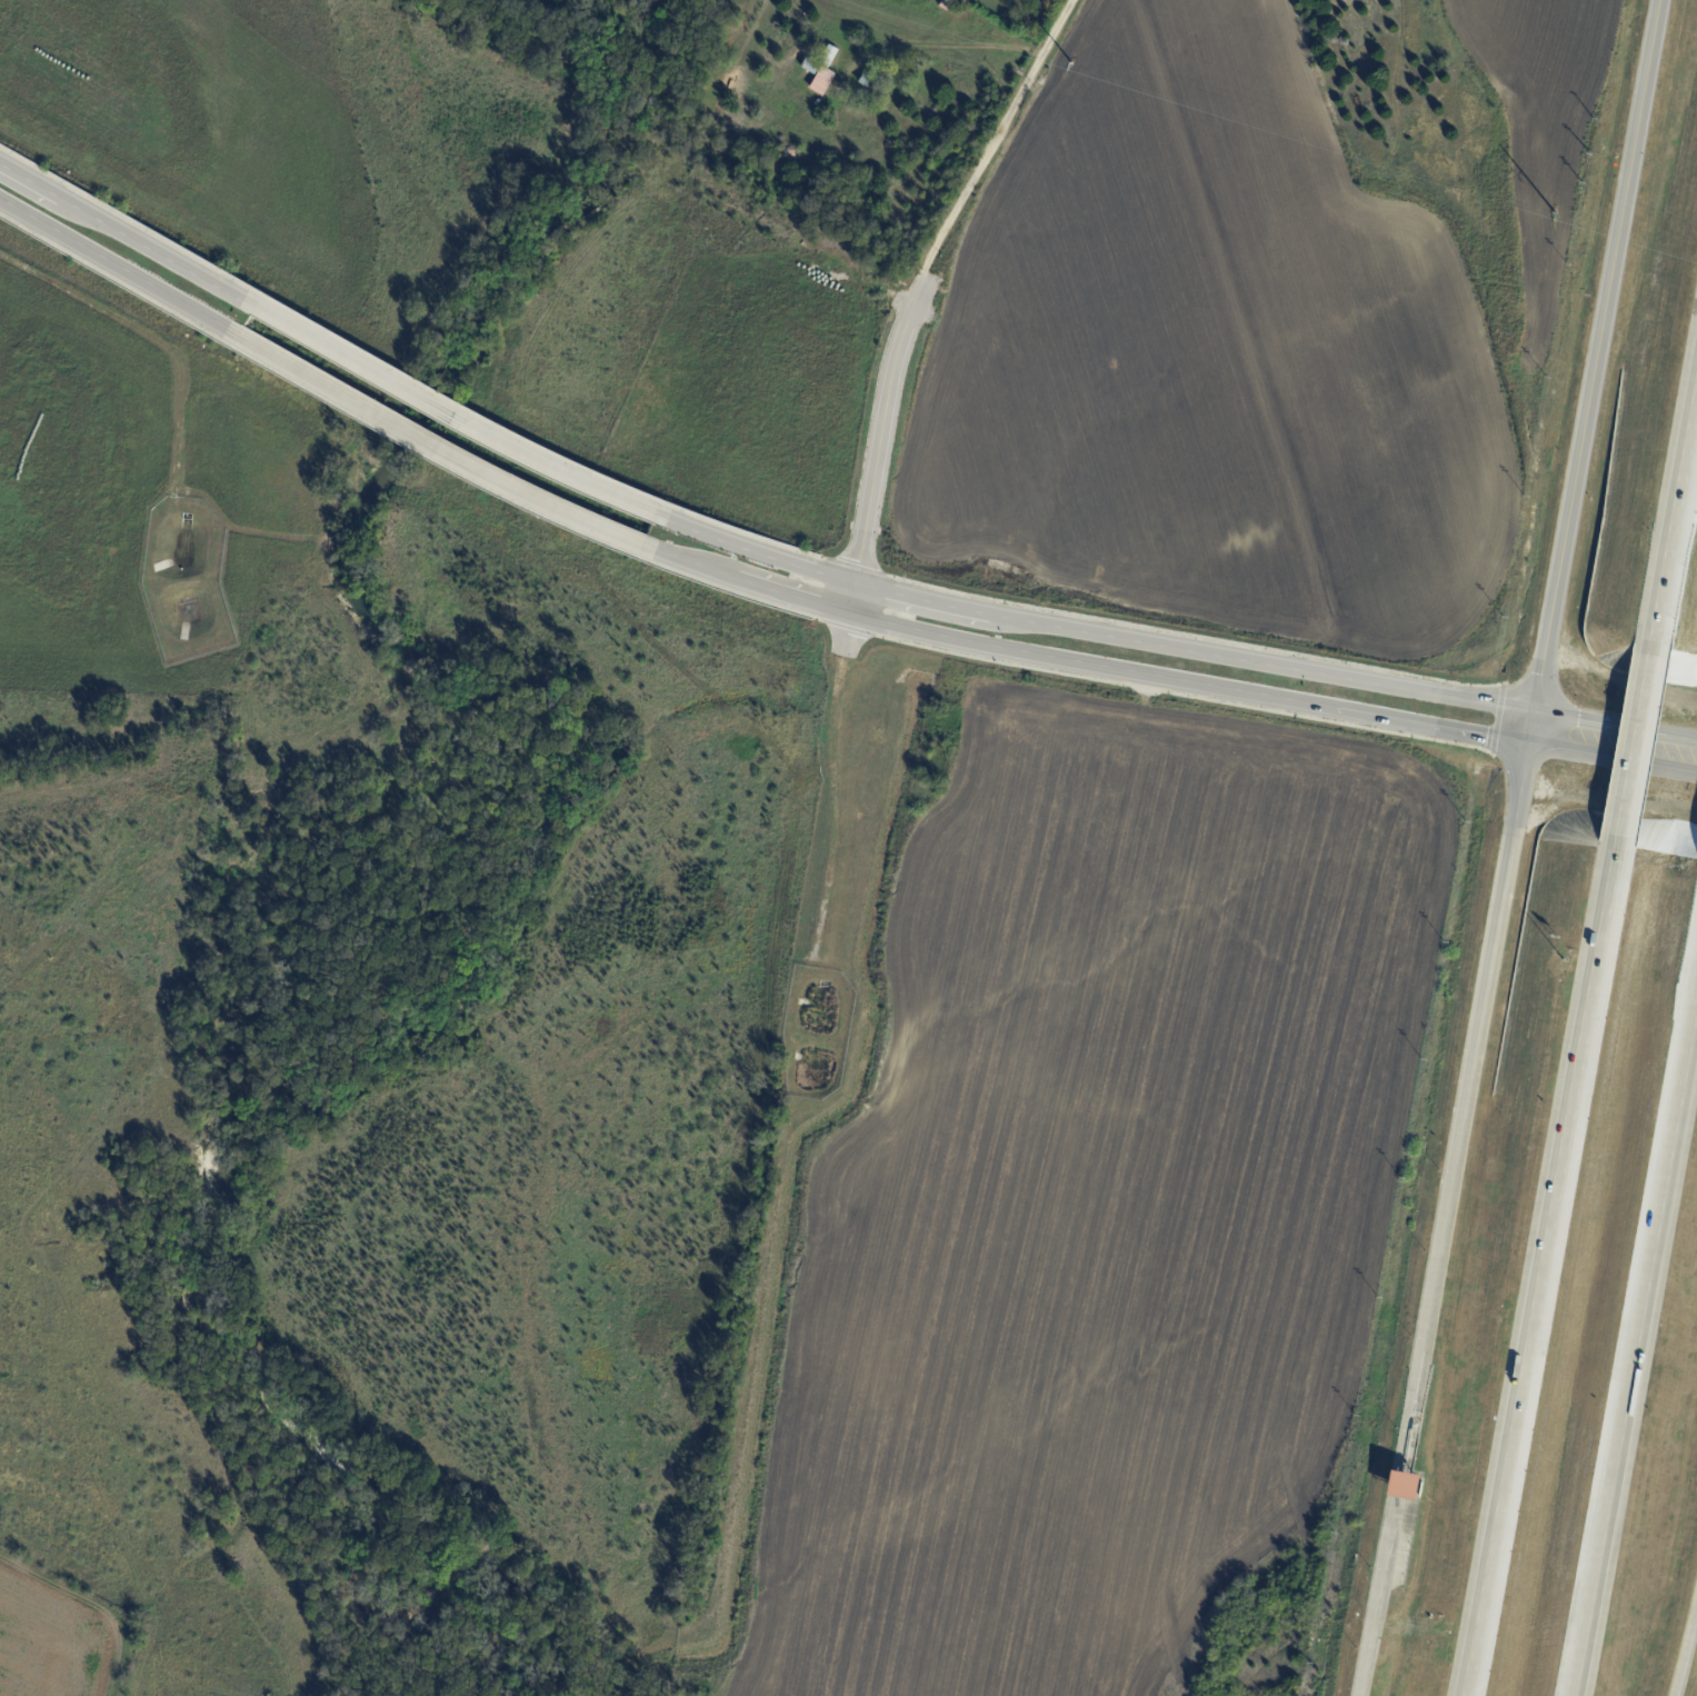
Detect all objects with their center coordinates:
building: (945, 4)
building: (828, 57)
building: (806, 71)
building: (820, 81)
building: (871, 83)
road: (996, 138)
road: (128, 233)
road: (119, 269)
road: (1596, 365)
road: (449, 413)
road: (878, 443)
road: (436, 449)
road: (1675, 508)
road: (1089, 632)
road: (1082, 665)
road: (1585, 738)
road: (1631, 738)
road: (1667, 754)
road: (1476, 1038)
road: (1540, 1273)
road: (1636, 1349)
road: (1407, 1409)
road: (1392, 1484)
building: (1400, 1485)
road: (1382, 1546)
road: (1685, 1645)
road: (1366, 1646)

